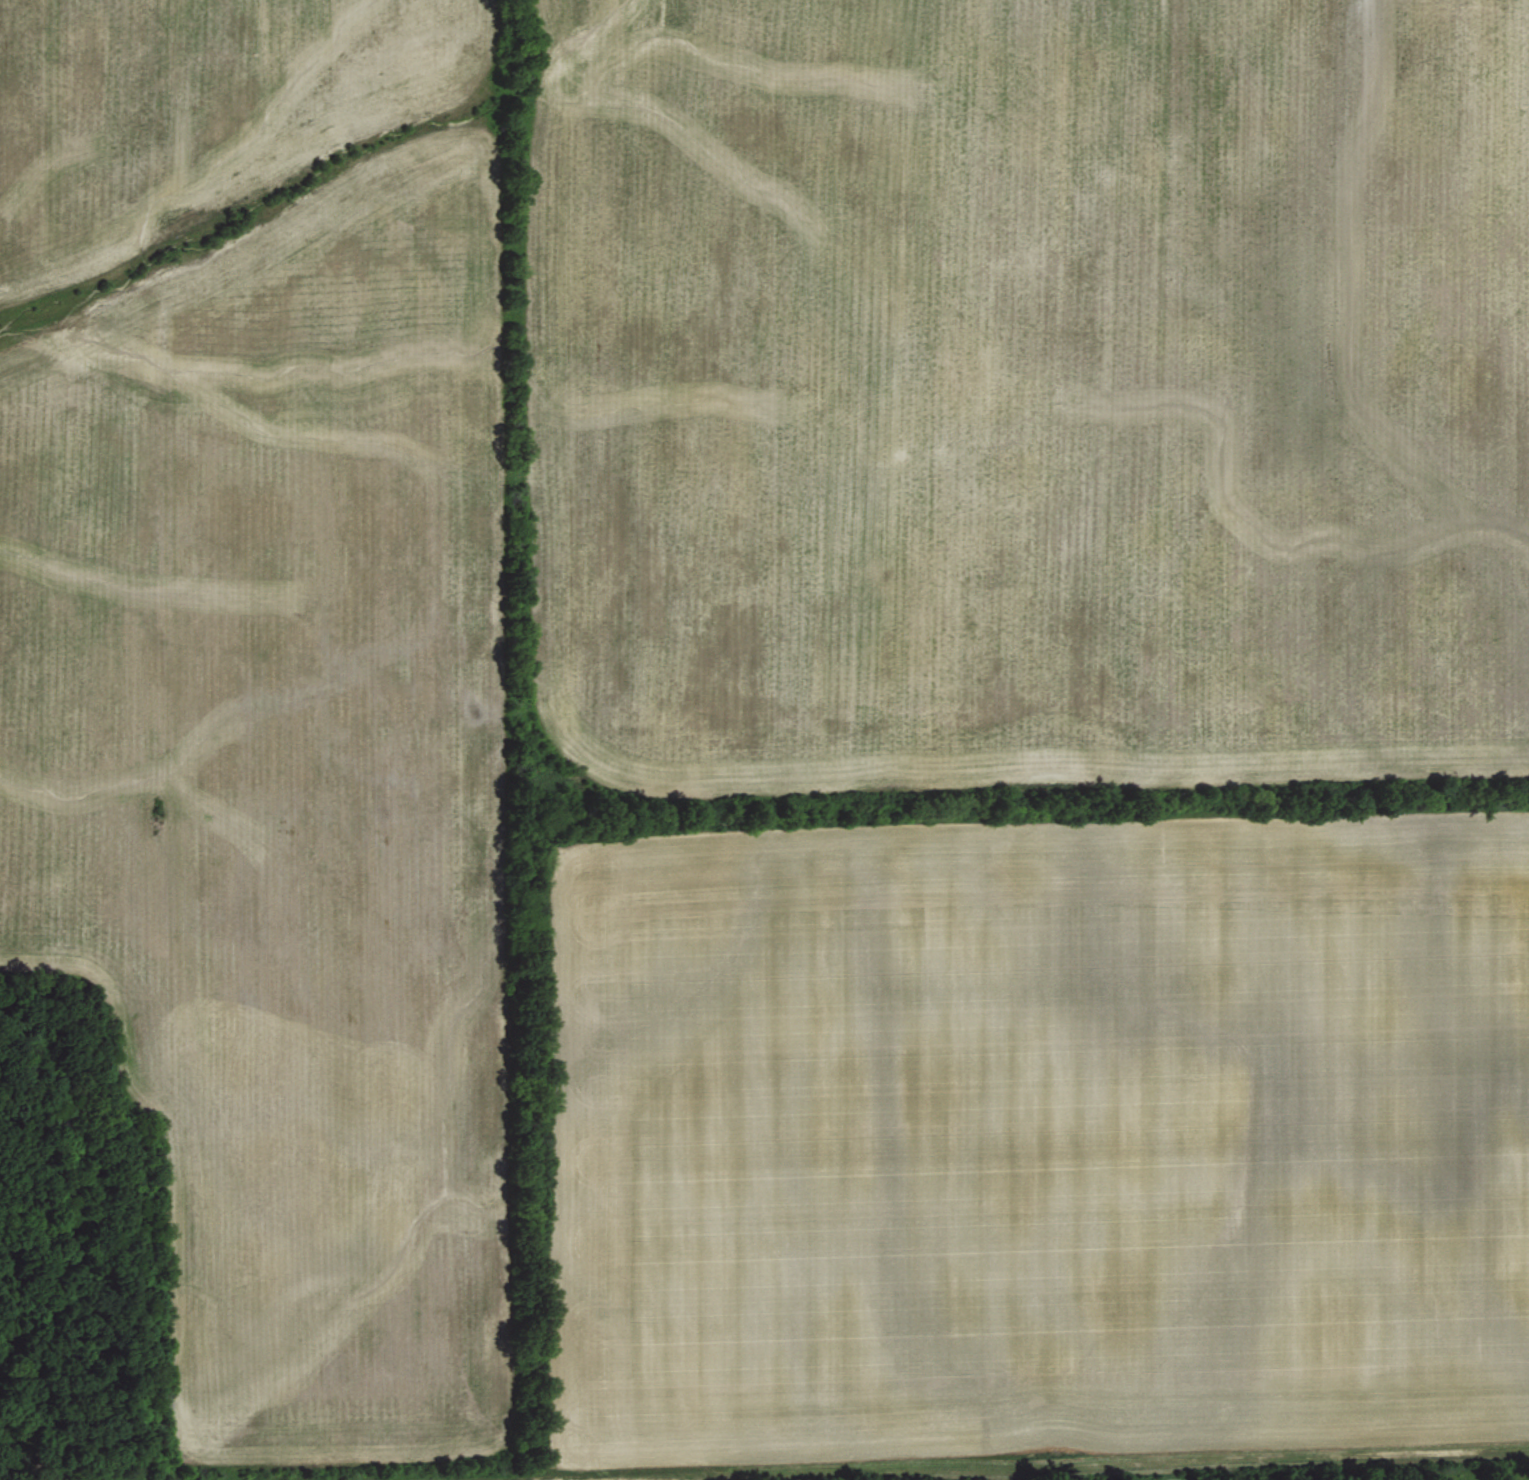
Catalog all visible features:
road: (1035, 1468)

